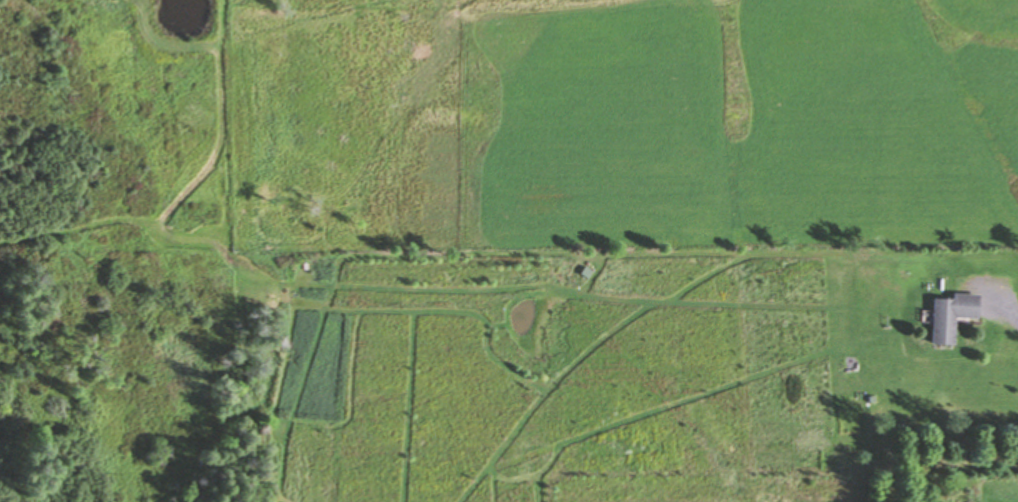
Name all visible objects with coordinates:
building: (945, 314)

